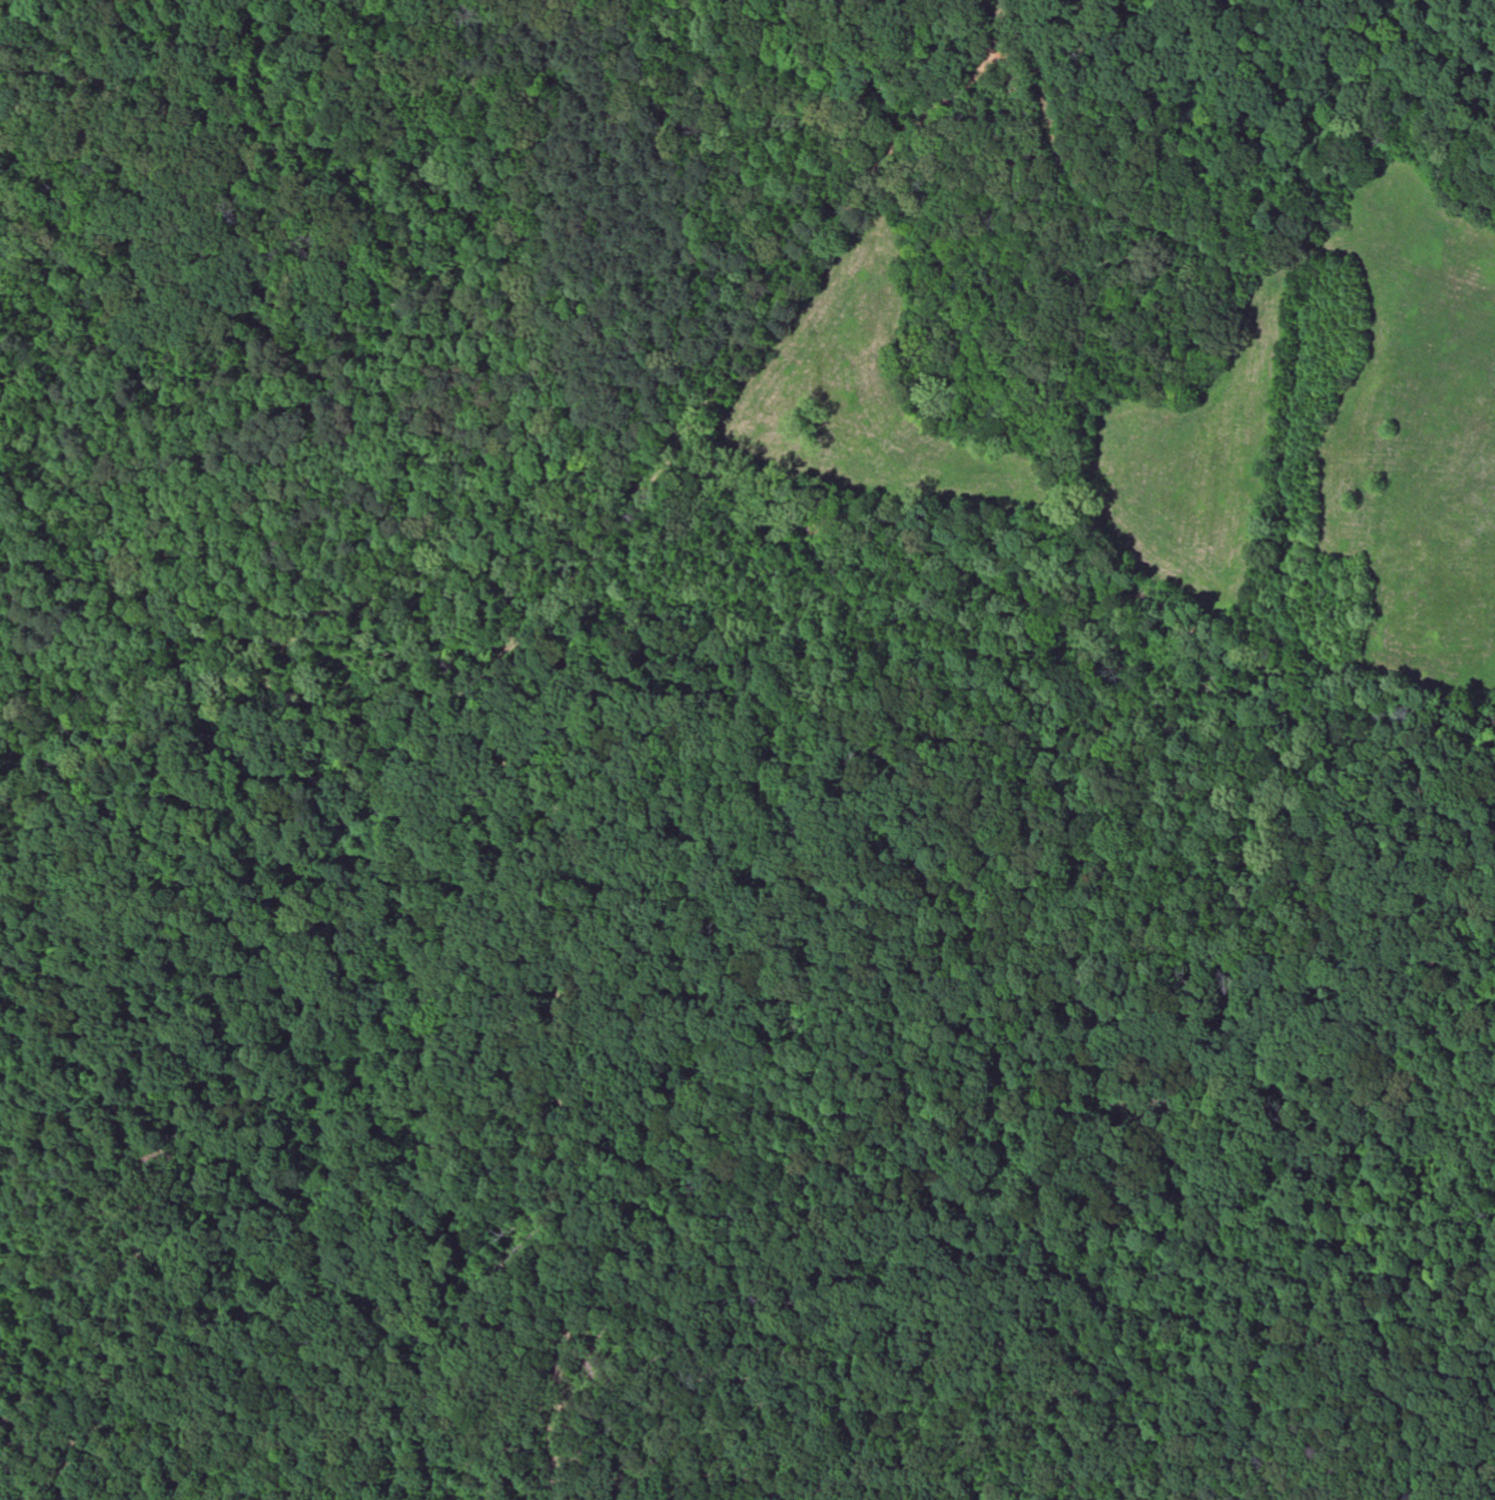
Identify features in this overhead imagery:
road: (471, 684)

